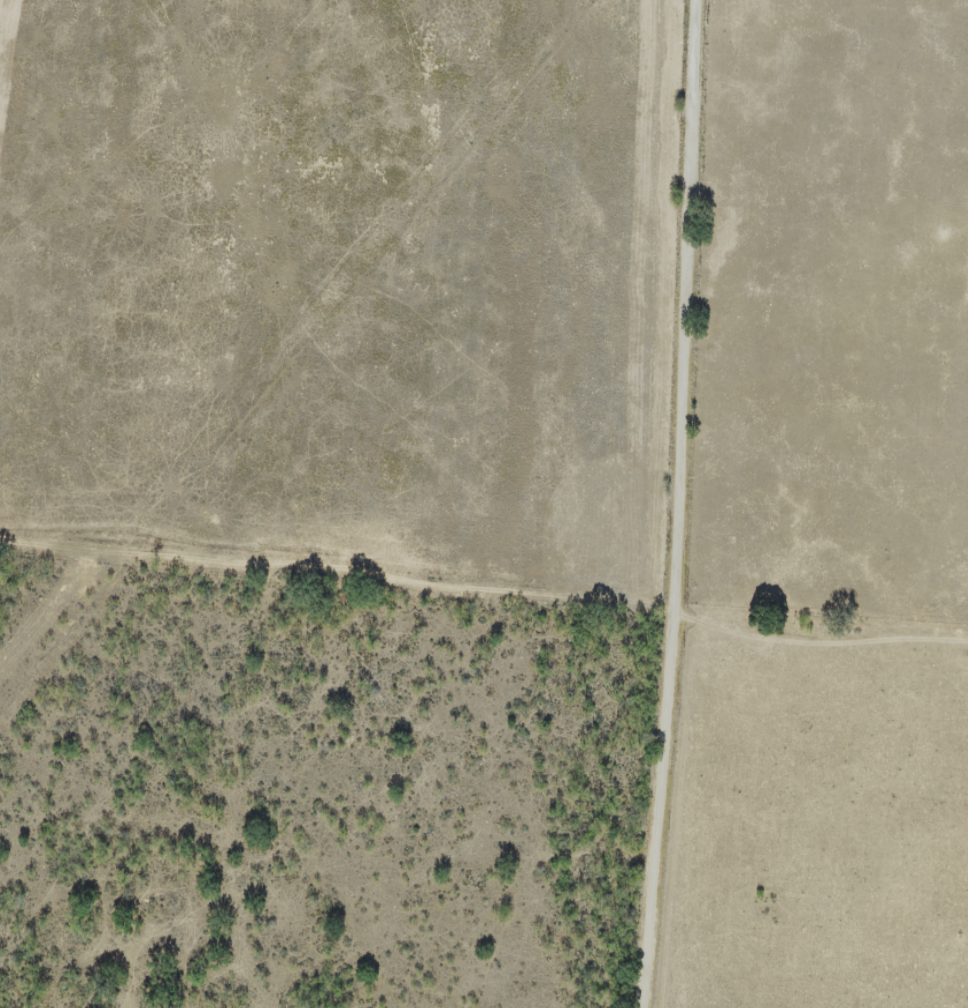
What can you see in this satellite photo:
road: (678, 504)
road: (820, 629)

